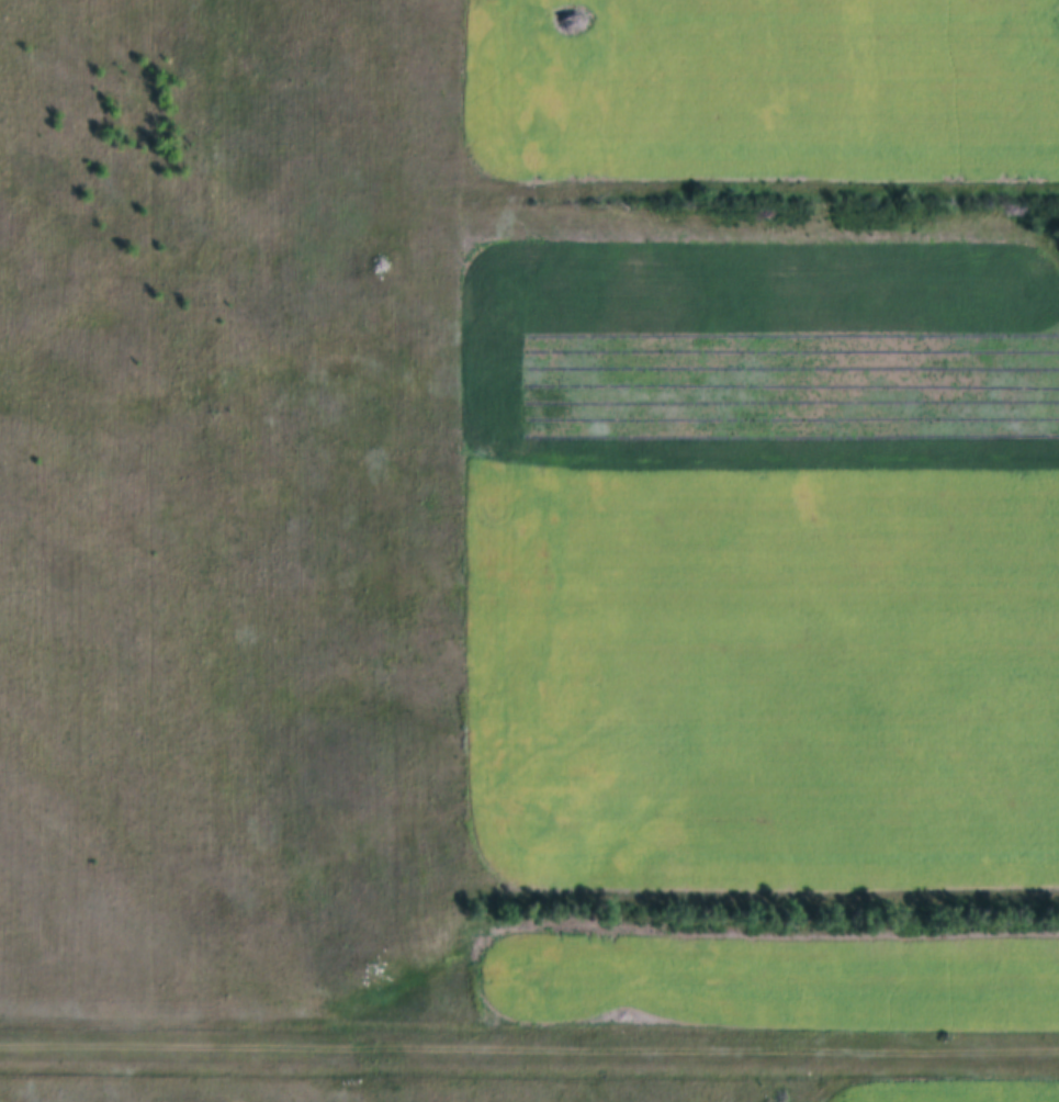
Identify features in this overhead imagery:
road: (529, 1046)

